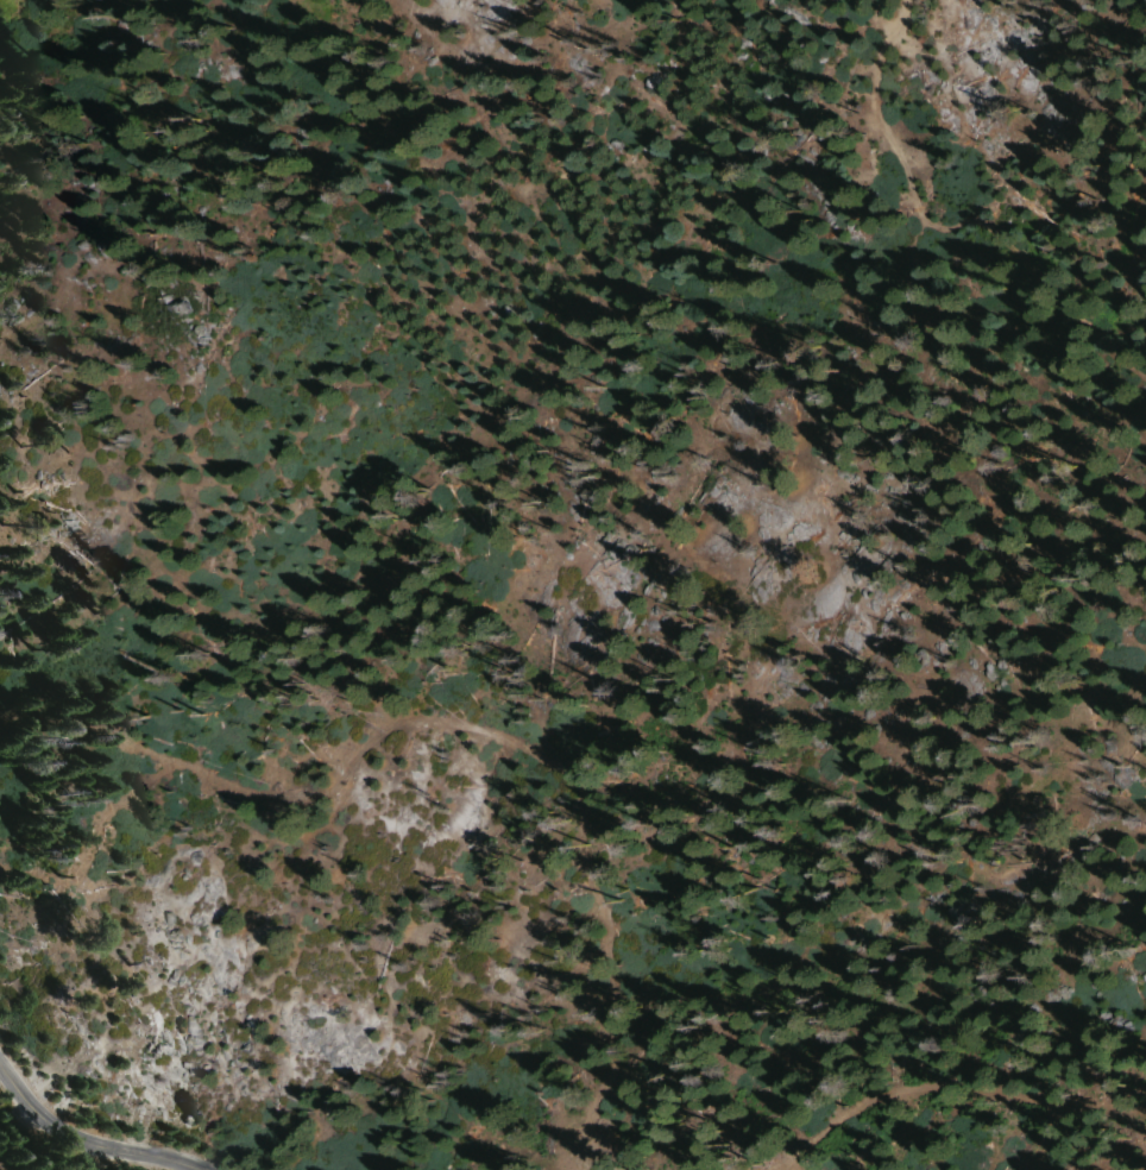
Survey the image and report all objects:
road: (976, 263)
road: (99, 1138)

